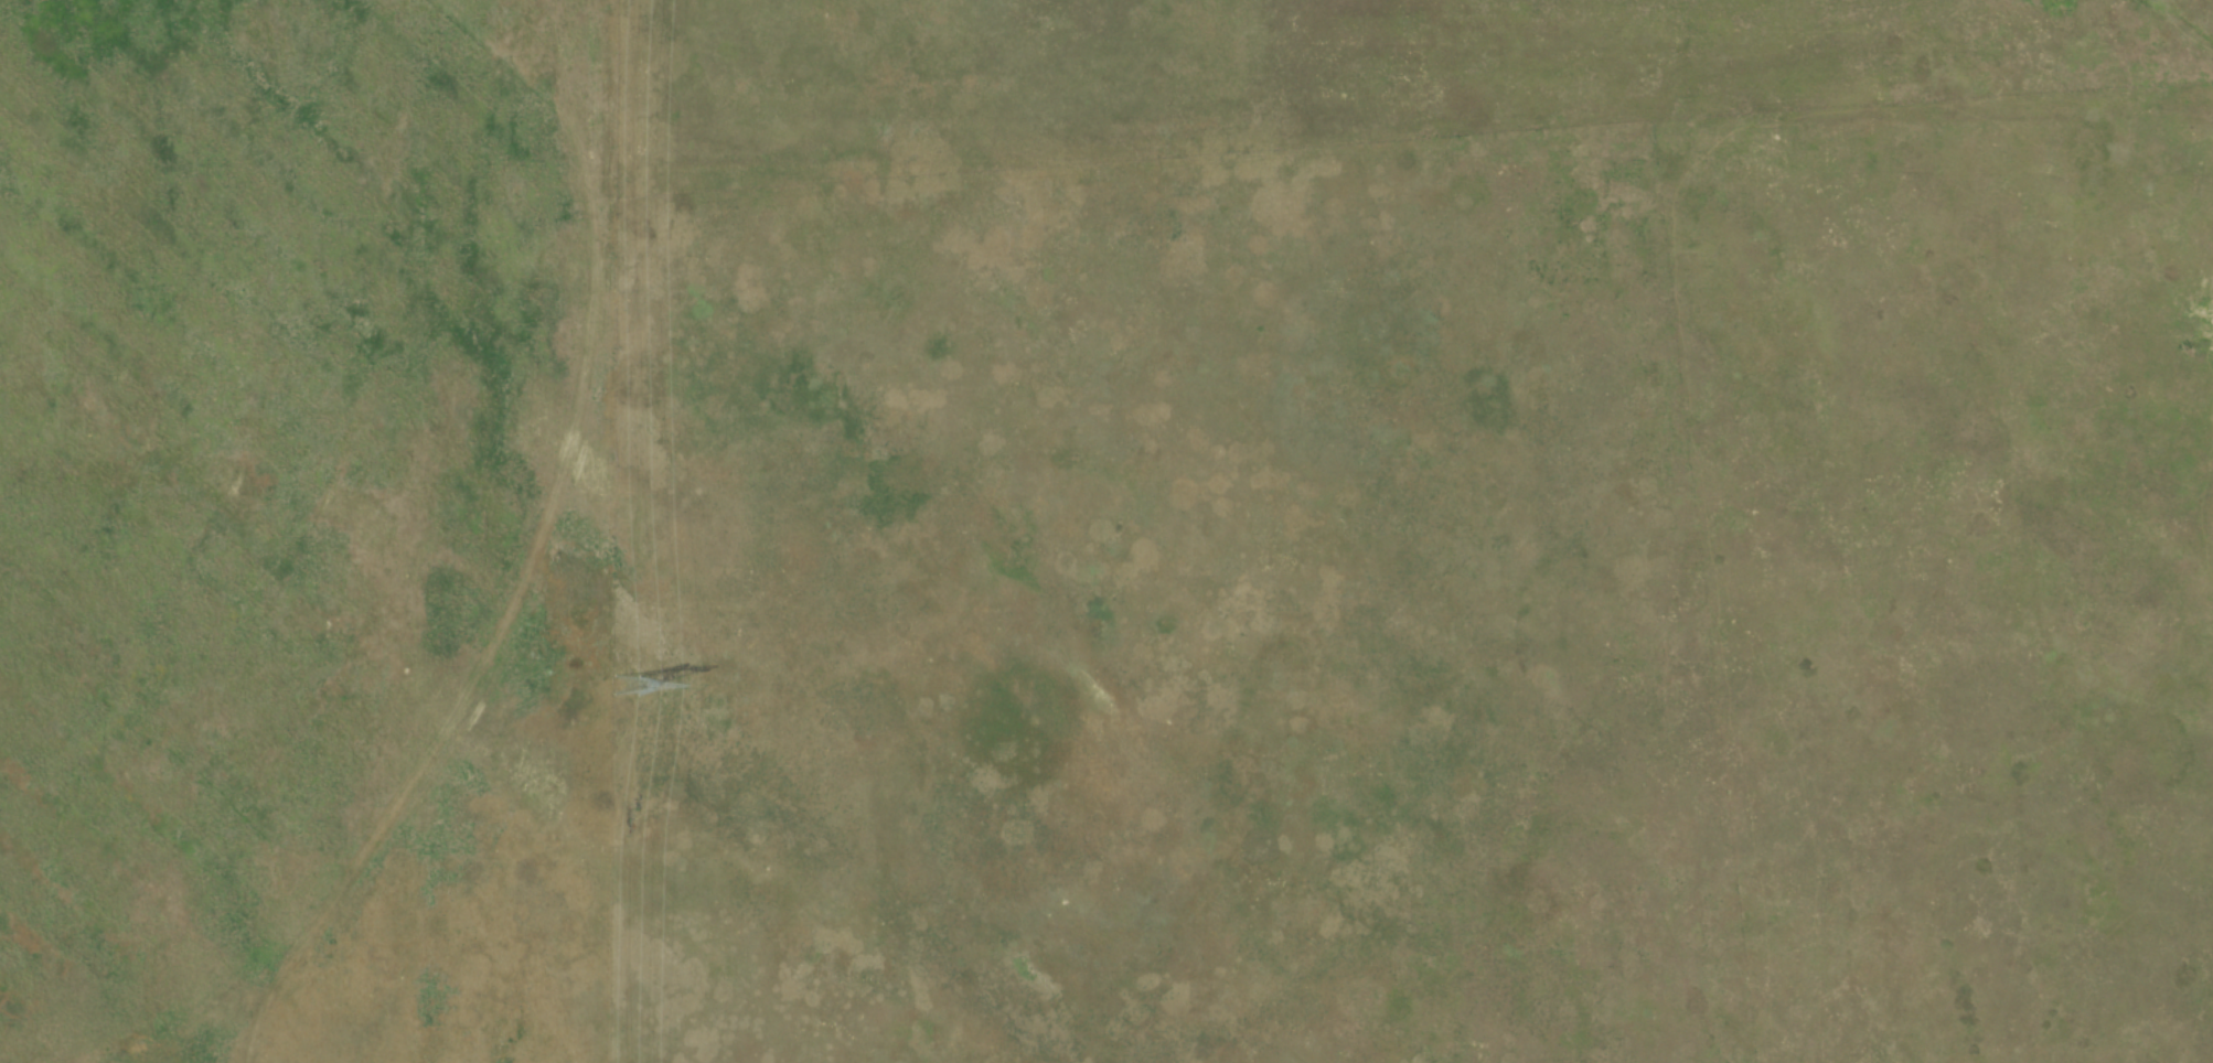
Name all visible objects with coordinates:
power tower: (626, 686)

